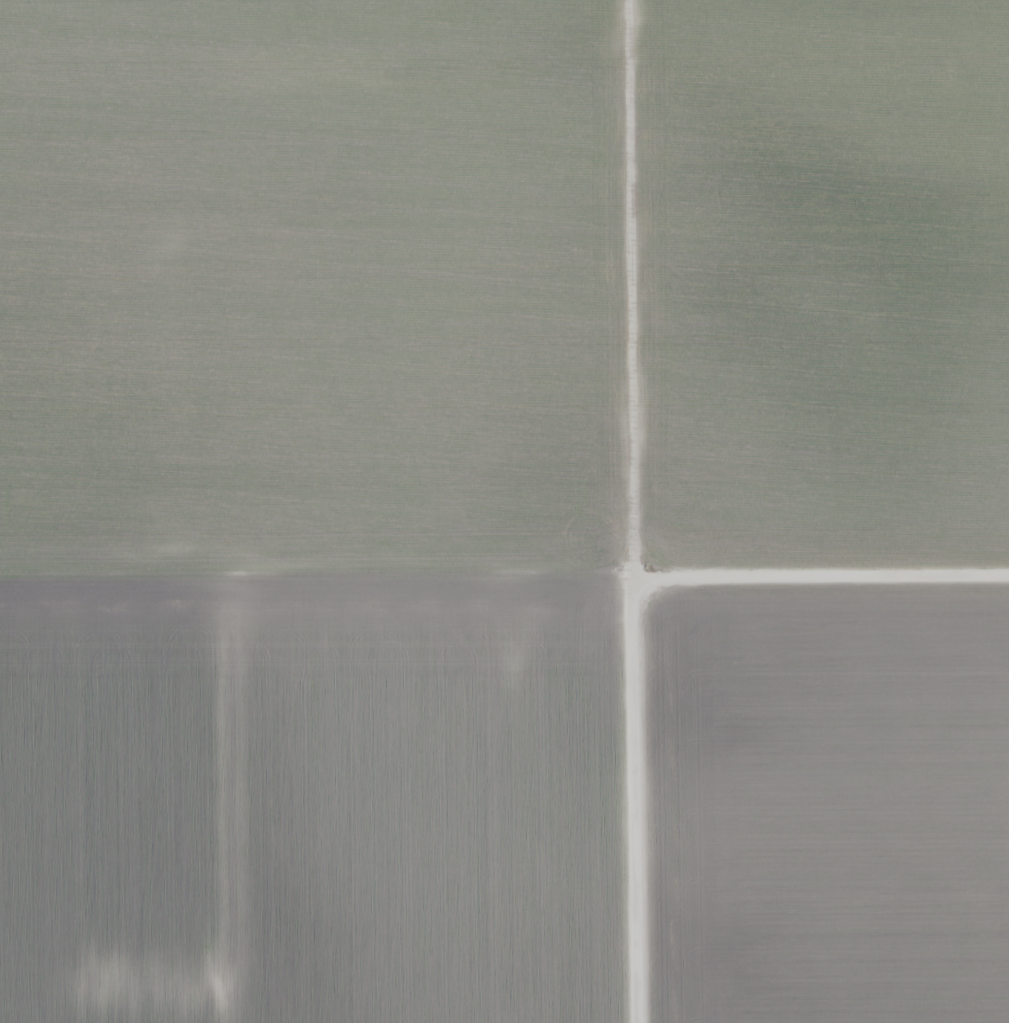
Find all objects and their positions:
road: (537, 557)

